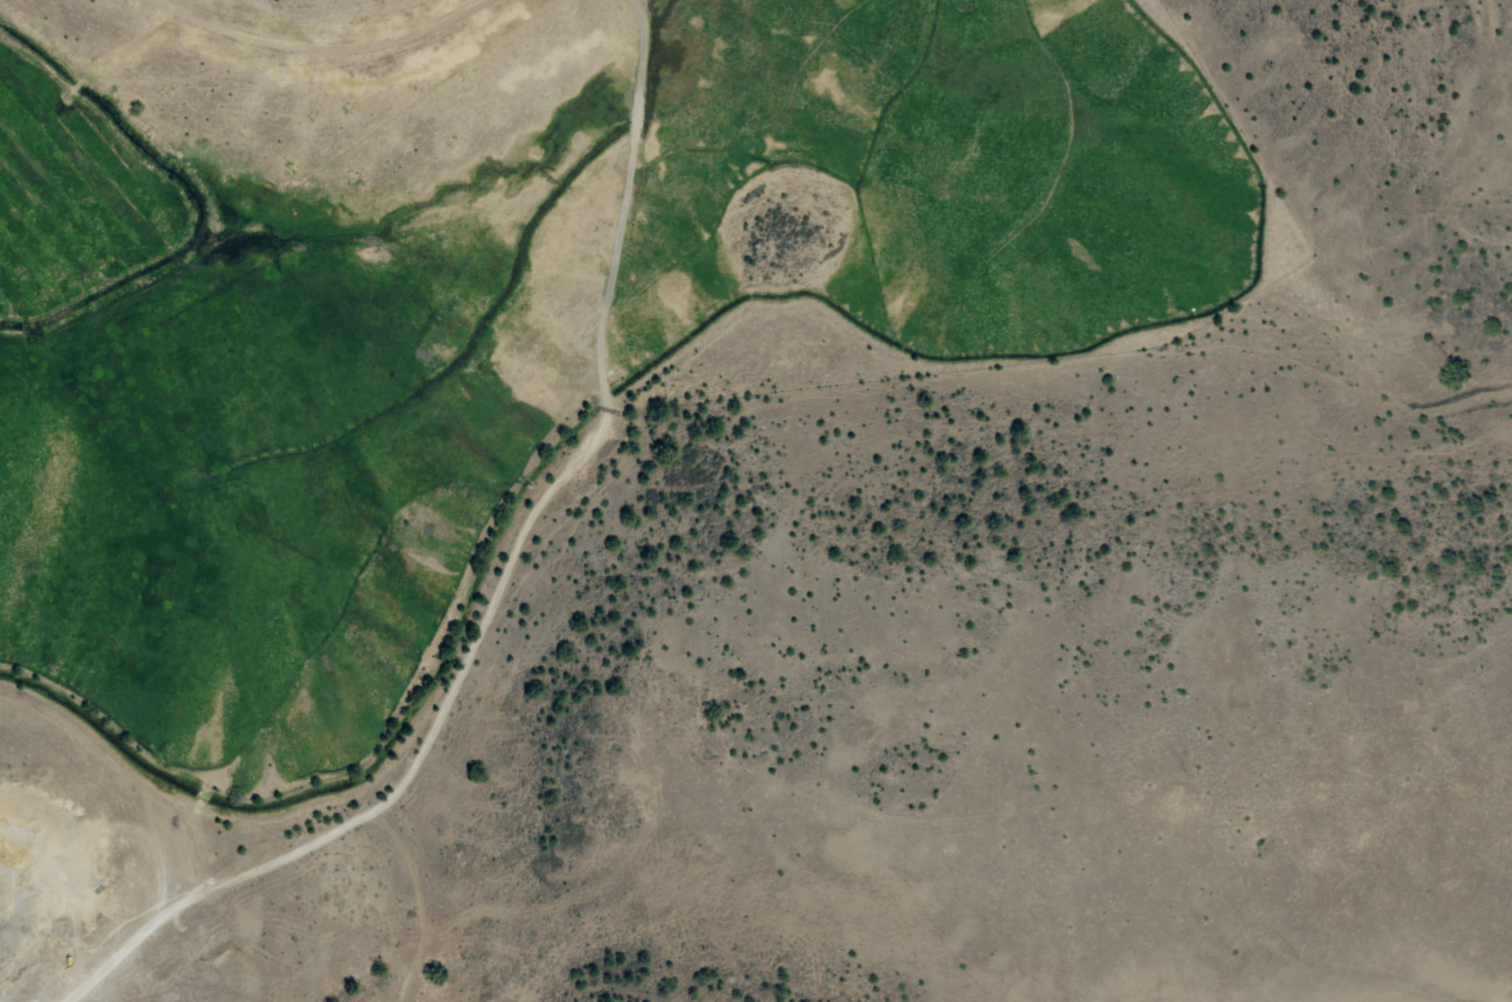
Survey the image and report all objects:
road: (496, 586)
road: (418, 898)

